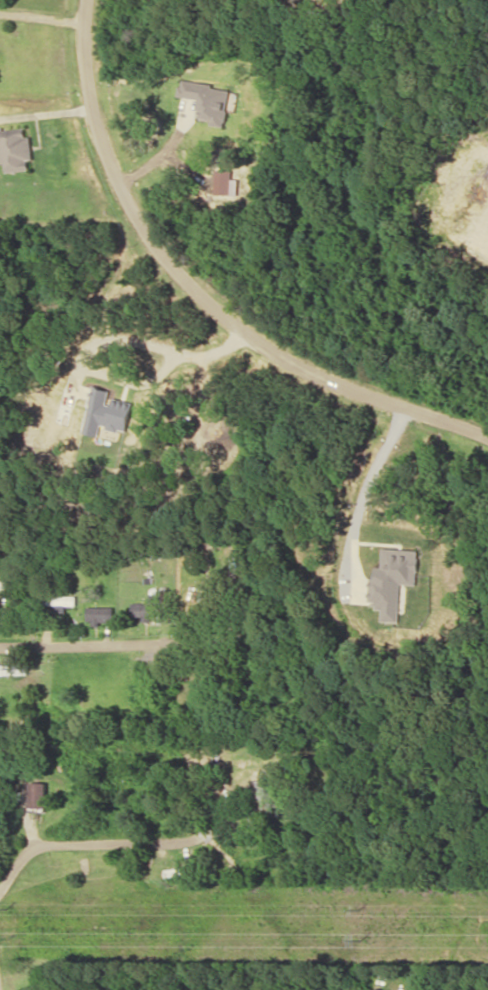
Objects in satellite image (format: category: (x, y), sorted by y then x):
building: (208, 99)
building: (15, 148)
road: (198, 294)
building: (104, 411)
building: (393, 580)
building: (148, 606)
building: (99, 614)
road: (93, 642)
building: (12, 668)
building: (37, 794)
road: (135, 842)
power tower: (9, 905)
power tower: (360, 910)
power tower: (360, 939)

